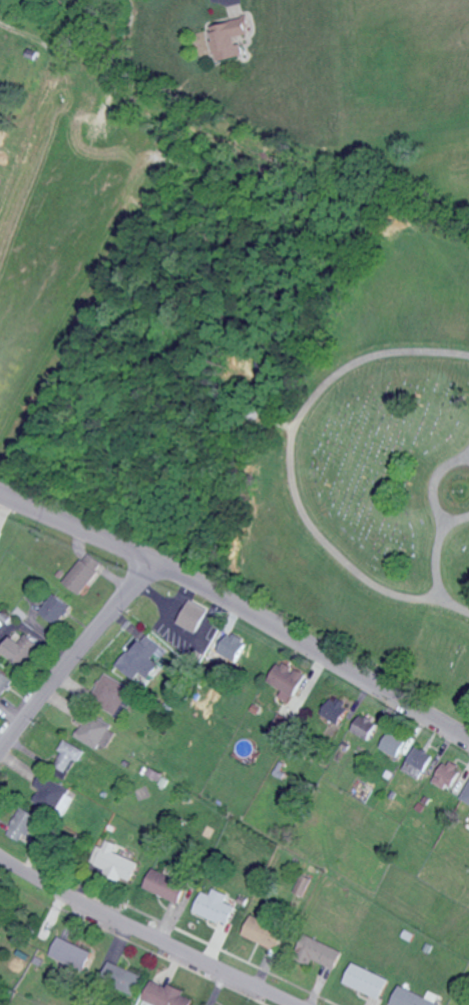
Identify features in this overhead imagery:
building: (229, 36)
park: (370, 454)
road: (288, 470)
road: (432, 485)
building: (0, 533)
road: (435, 554)
building: (83, 572)
building: (55, 609)
road: (239, 612)
building: (199, 619)
building: (234, 646)
building: (21, 651)
building: (141, 658)
road: (74, 659)
building: (287, 680)
building: (5, 681)
building: (111, 693)
building: (335, 710)
building: (363, 726)
building: (279, 728)
building: (92, 729)
building: (392, 743)
building: (69, 755)
building: (417, 762)
building: (446, 775)
building: (50, 792)
building: (466, 795)
building: (23, 825)
building: (117, 862)
building: (1, 882)
building: (165, 885)
building: (301, 885)
building: (214, 906)
building: (263, 932)
road: (144, 934)
building: (318, 952)
building: (72, 953)
building: (121, 977)
building: (366, 981)
building: (165, 995)
building: (411, 998)
park: (23, 1000)

